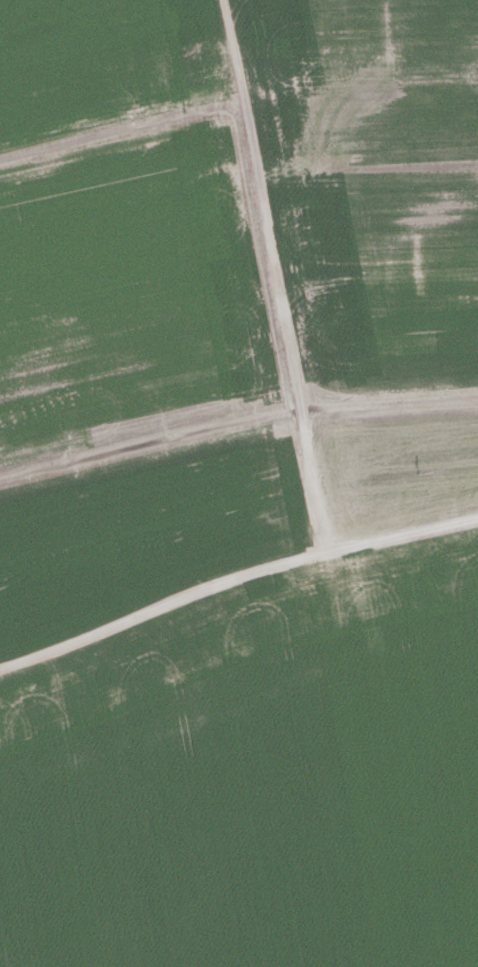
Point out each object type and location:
crop: (119, 236)
road: (273, 273)
road: (235, 579)

